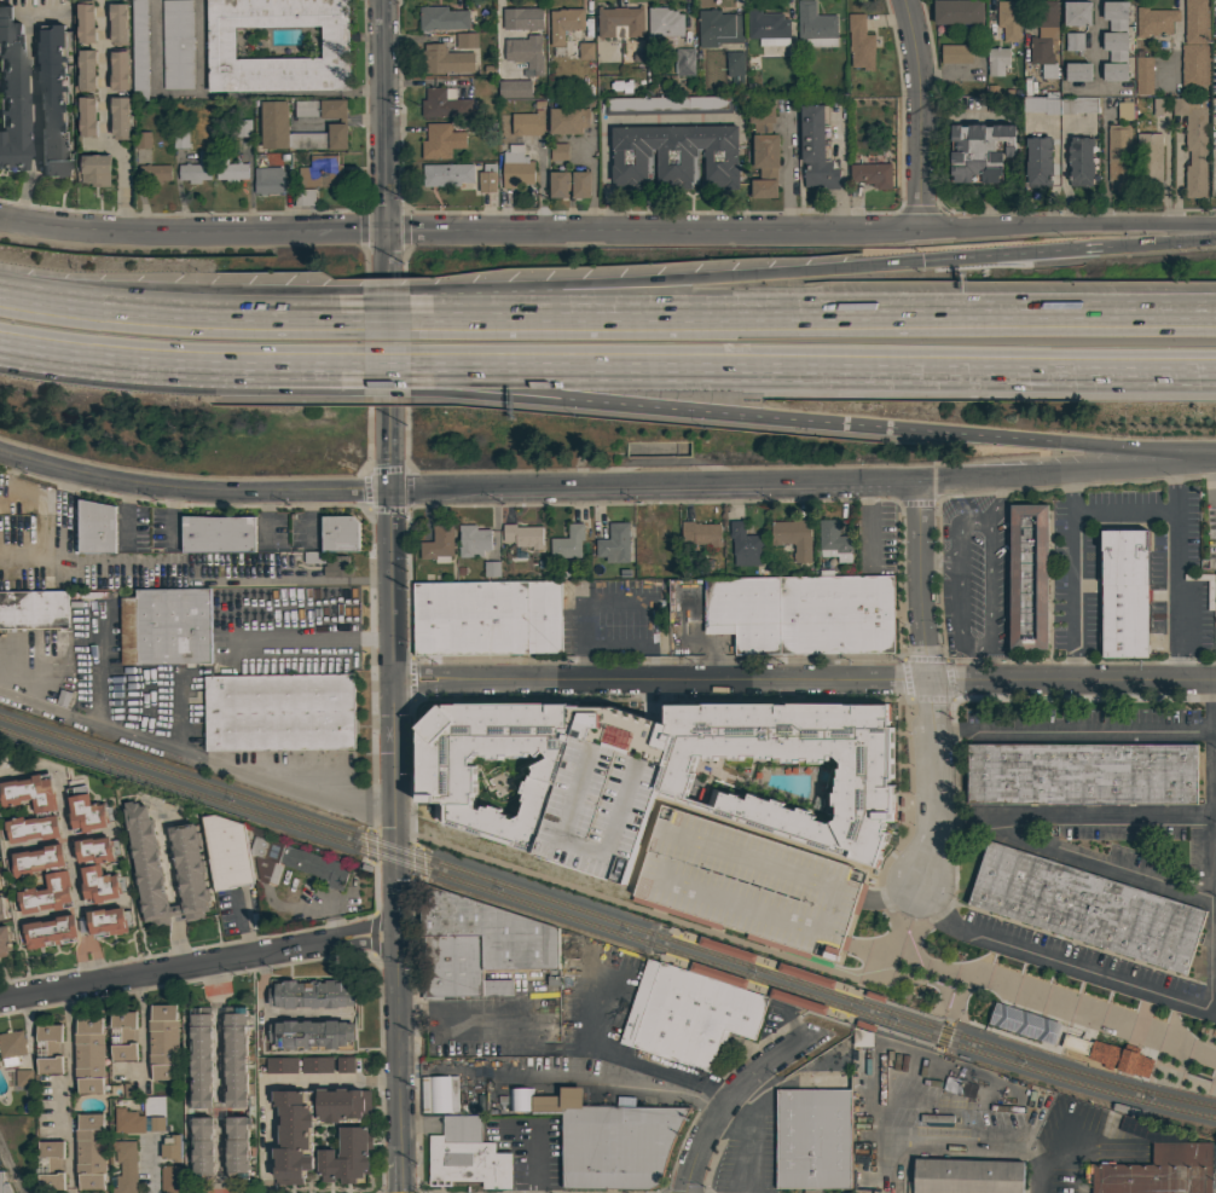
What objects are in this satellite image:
building: (1215, 1)
building: (957, 12)
building: (1077, 13)
building: (521, 18)
building: (442, 19)
building: (1008, 19)
building: (620, 21)
building: (1154, 21)
building: (85, 22)
building: (1195, 22)
building: (564, 23)
building: (118, 24)
building: (664, 27)
building: (815, 27)
building: (718, 28)
building: (768, 28)
road: (498, 33)
building: (1044, 35)
building: (467, 40)
building: (1073, 41)
building: (1114, 41)
building: (859, 42)
building: (176, 44)
building: (139, 50)
building: (335, 50)
building: (585, 51)
building: (525, 52)
building: (601, 52)
building: (956, 53)
building: (630, 57)
building: (446, 59)
building: (998, 62)
building: (735, 63)
building: (1193, 64)
building: (684, 65)
building: (86, 69)
building: (118, 69)
building: (1077, 71)
building: (1143, 75)
building: (514, 88)
building: (11, 92)
road: (225, 94)
building: (52, 99)
building: (439, 103)
building: (1060, 105)
building: (1160, 106)
building: (1124, 110)
road: (917, 112)
building: (86, 115)
road: (30, 117)
building: (120, 117)
road: (614, 118)
building: (568, 121)
road: (104, 122)
building: (527, 123)
building: (503, 126)
building: (243, 128)
building: (274, 129)
road: (382, 137)
building: (180, 139)
building: (143, 140)
building: (440, 141)
building: (1193, 145)
building: (816, 149)
building: (558, 151)
building: (764, 151)
building: (979, 151)
building: (674, 155)
building: (1117, 156)
building: (1148, 160)
building: (1038, 161)
building: (1079, 161)
building: (515, 167)
building: (230, 168)
building: (95, 169)
building: (196, 169)
building: (320, 172)
road: (786, 172)
building: (155, 173)
building: (447, 174)
building: (872, 174)
building: (487, 178)
building: (268, 180)
building: (569, 184)
building: (302, 198)
road: (461, 228)
road: (1070, 228)
road: (1163, 241)
road: (1015, 253)
traffic signals: (920, 260)
road: (664, 278)
road: (384, 291)
road: (324, 303)
road: (143, 308)
road: (811, 312)
road: (323, 314)
road: (383, 314)
road: (143, 359)
road: (386, 360)
road: (324, 361)
road: (812, 361)
road: (325, 369)
road: (386, 377)
road: (728, 415)
road: (1131, 448)
road: (1069, 476)
road: (656, 493)
road: (192, 498)
road: (994, 504)
road: (1123, 510)
road: (392, 522)
road: (971, 522)
building: (95, 527)
road: (864, 528)
parking lot: (146, 529)
parking lot: (288, 532)
building: (218, 533)
building: (340, 533)
building: (701, 533)
building: (522, 535)
building: (793, 537)
building: (473, 540)
building: (834, 540)
building: (568, 543)
building: (439, 544)
building: (615, 544)
building: (656, 544)
building: (745, 545)
parking lot: (98, 557)
building: (313, 557)
building: (221, 562)
road: (936, 563)
building: (336, 566)
building: (491, 569)
road: (1174, 572)
building: (1038, 578)
road: (1072, 578)
road: (261, 583)
road: (370, 583)
building: (1124, 593)
building: (33, 609)
building: (789, 612)
building: (486, 618)
parking lot: (613, 619)
building: (329, 624)
building: (166, 626)
building: (230, 641)
road: (370, 641)
road: (394, 660)
road: (969, 666)
road: (579, 668)
road: (805, 681)
road: (927, 687)
road: (520, 697)
road: (48, 710)
building: (279, 712)
road: (949, 714)
road: (372, 729)
road: (1072, 729)
road: (189, 755)
building: (6, 759)
building: (1081, 774)
building: (641, 777)
building: (492, 784)
building: (759, 786)
building: (85, 809)
building: (45, 810)
road: (1072, 816)
road: (69, 849)
building: (226, 851)
building: (187, 863)
building: (295, 863)
road: (1093, 864)
building: (98, 869)
building: (0, 882)
building: (57, 882)
building: (747, 884)
parking garage: (747, 884)
building: (1085, 907)
building: (1, 909)
railway: (606, 917)
building: (109, 921)
road: (674, 926)
railway: (606, 928)
building: (47, 932)
road: (396, 937)
building: (4, 940)
building: (476, 944)
railway: (660, 959)
road: (197, 965)
building: (311, 992)
road: (1046, 995)
railway: (858, 997)
building: (1102, 1012)
building: (688, 1014)
road: (1212, 1014)
road: (927, 1019)
building: (1025, 1020)
road: (141, 1024)
road: (776, 1031)
building: (312, 1033)
building: (122, 1035)
building: (862, 1037)
building: (163, 1042)
building: (11, 1047)
building: (48, 1048)
building: (89, 1055)
building: (201, 1056)
building: (236, 1056)
building: (1108, 1056)
road: (68, 1059)
road: (619, 1060)
building: (344, 1064)
building: (282, 1065)
building: (317, 1065)
building: (23, 1077)
road: (219, 1077)
road: (770, 1077)
road: (278, 1081)
road: (712, 1088)
road: (737, 1093)
building: (438, 1095)
building: (556, 1101)
building: (342, 1105)
building: (128, 1120)
building: (157, 1123)
building: (1119, 1124)
building: (813, 1134)
building: (293, 1136)
building: (615, 1146)
building: (170, 1147)
building: (237, 1147)
building: (202, 1148)
building: (91, 1151)
building: (347, 1156)
building: (465, 1156)
road: (533, 1158)
building: (50, 1165)
building: (126, 1166)
building: (1157, 1171)
building: (967, 1176)
building: (170, 1178)
building: (4, 1185)

